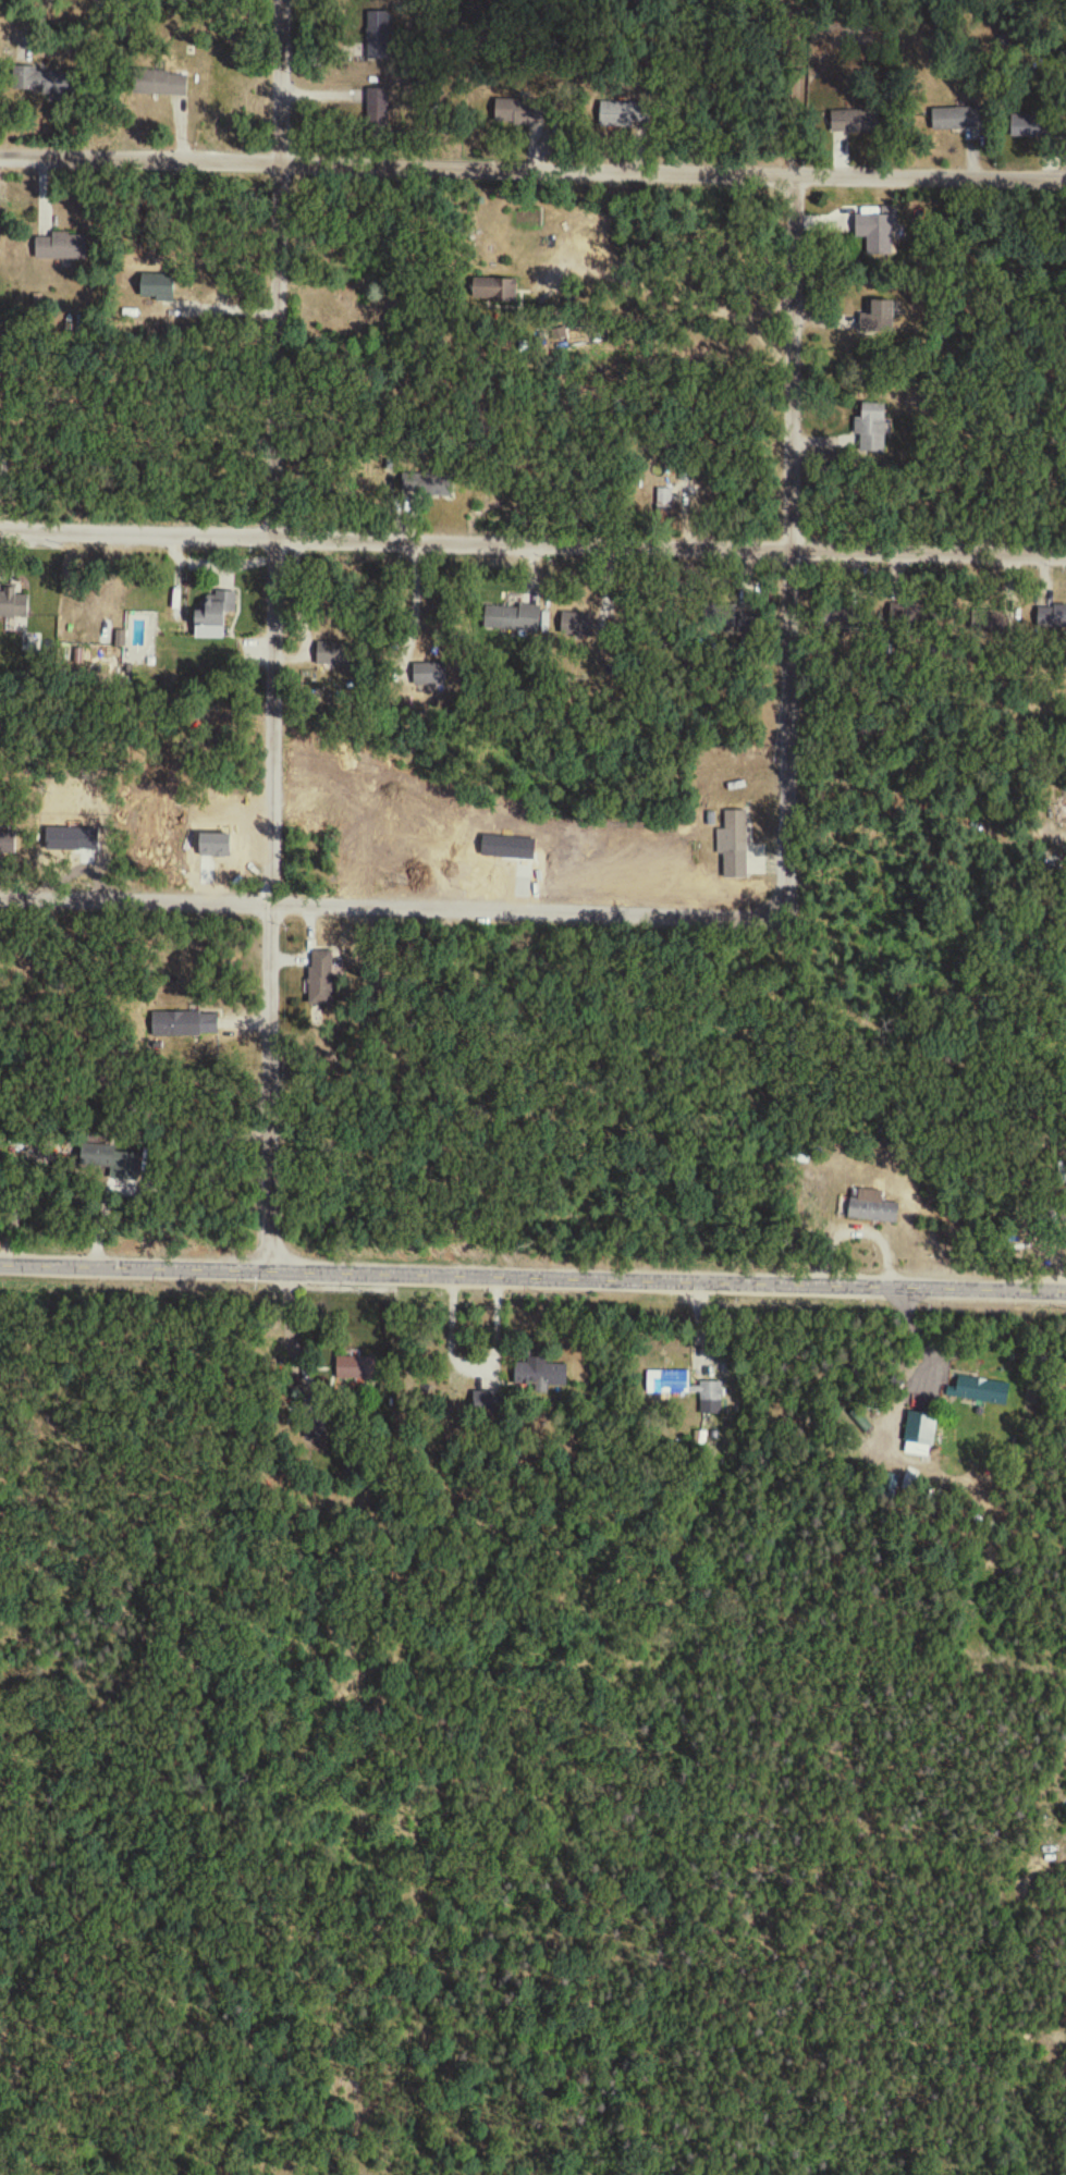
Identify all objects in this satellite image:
building: (40, 82)
building: (160, 84)
building: (519, 112)
building: (626, 115)
building: (957, 119)
building: (855, 122)
building: (1030, 125)
road: (532, 169)
building: (879, 233)
building: (62, 247)
building: (158, 286)
building: (495, 291)
road: (666, 293)
building: (879, 320)
building: (560, 335)
road: (791, 359)
building: (872, 430)
building: (427, 486)
building: (665, 506)
road: (532, 539)
road: (297, 592)
road: (414, 597)
building: (13, 605)
building: (212, 615)
building: (511, 619)
building: (1056, 619)
building: (842, 623)
road: (272, 635)
building: (334, 656)
building: (430, 675)
road: (787, 724)
building: (739, 848)
road: (392, 908)
building: (321, 978)
building: (185, 1024)
building: (98, 1157)
building: (874, 1213)
road: (157, 1265)
road: (690, 1280)
road: (475, 1361)
building: (356, 1369)
building: (540, 1376)
building: (669, 1384)
building: (712, 1391)
building: (983, 1392)
building: (924, 1433)

